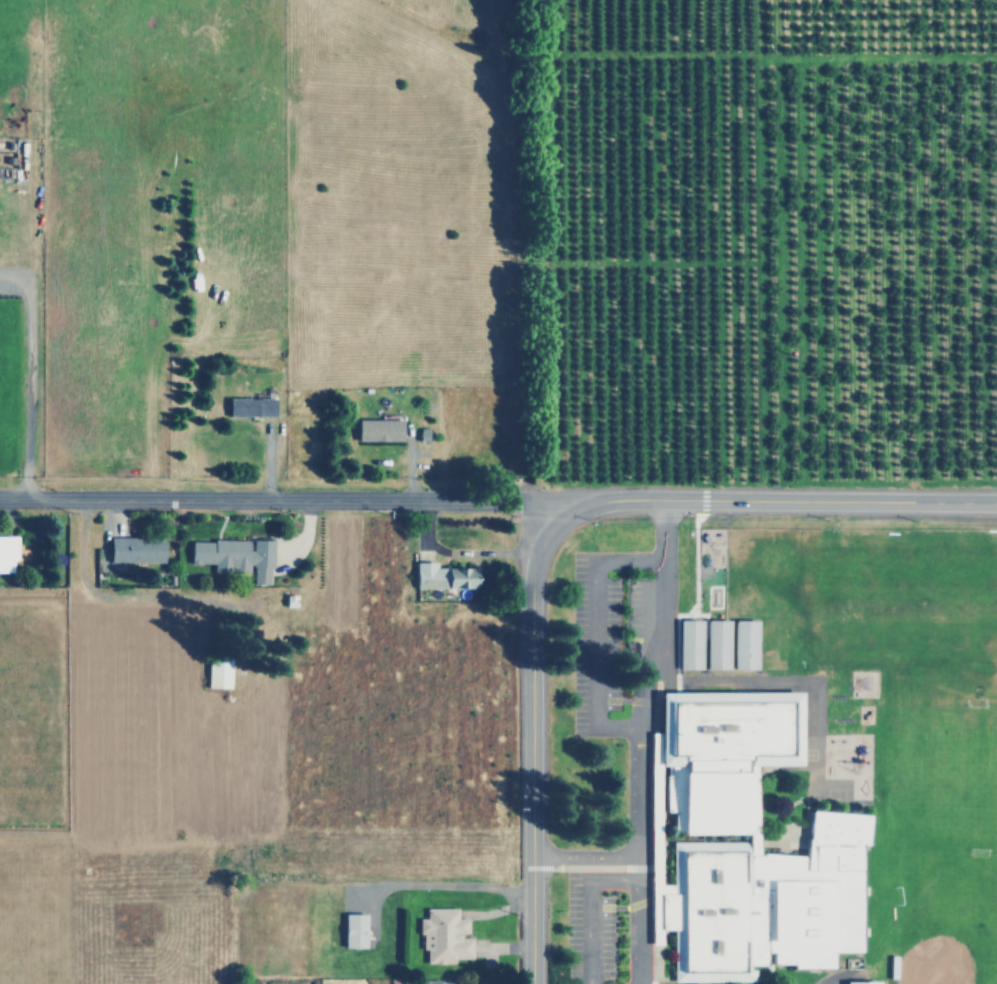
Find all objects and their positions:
road: (518, 252)
road: (27, 379)
building: (247, 405)
building: (376, 430)
road: (278, 498)
road: (771, 498)
building: (132, 549)
building: (4, 554)
building: (230, 555)
building: (440, 576)
park: (906, 606)
road: (591, 630)
building: (715, 645)
building: (744, 645)
building: (687, 646)
building: (215, 673)
road: (636, 737)
road: (532, 749)
park: (946, 815)
building: (745, 848)
road: (585, 856)
road: (461, 885)
park: (940, 915)
road: (584, 920)
building: (353, 930)
building: (443, 936)
building: (430, 982)
building: (860, 982)

